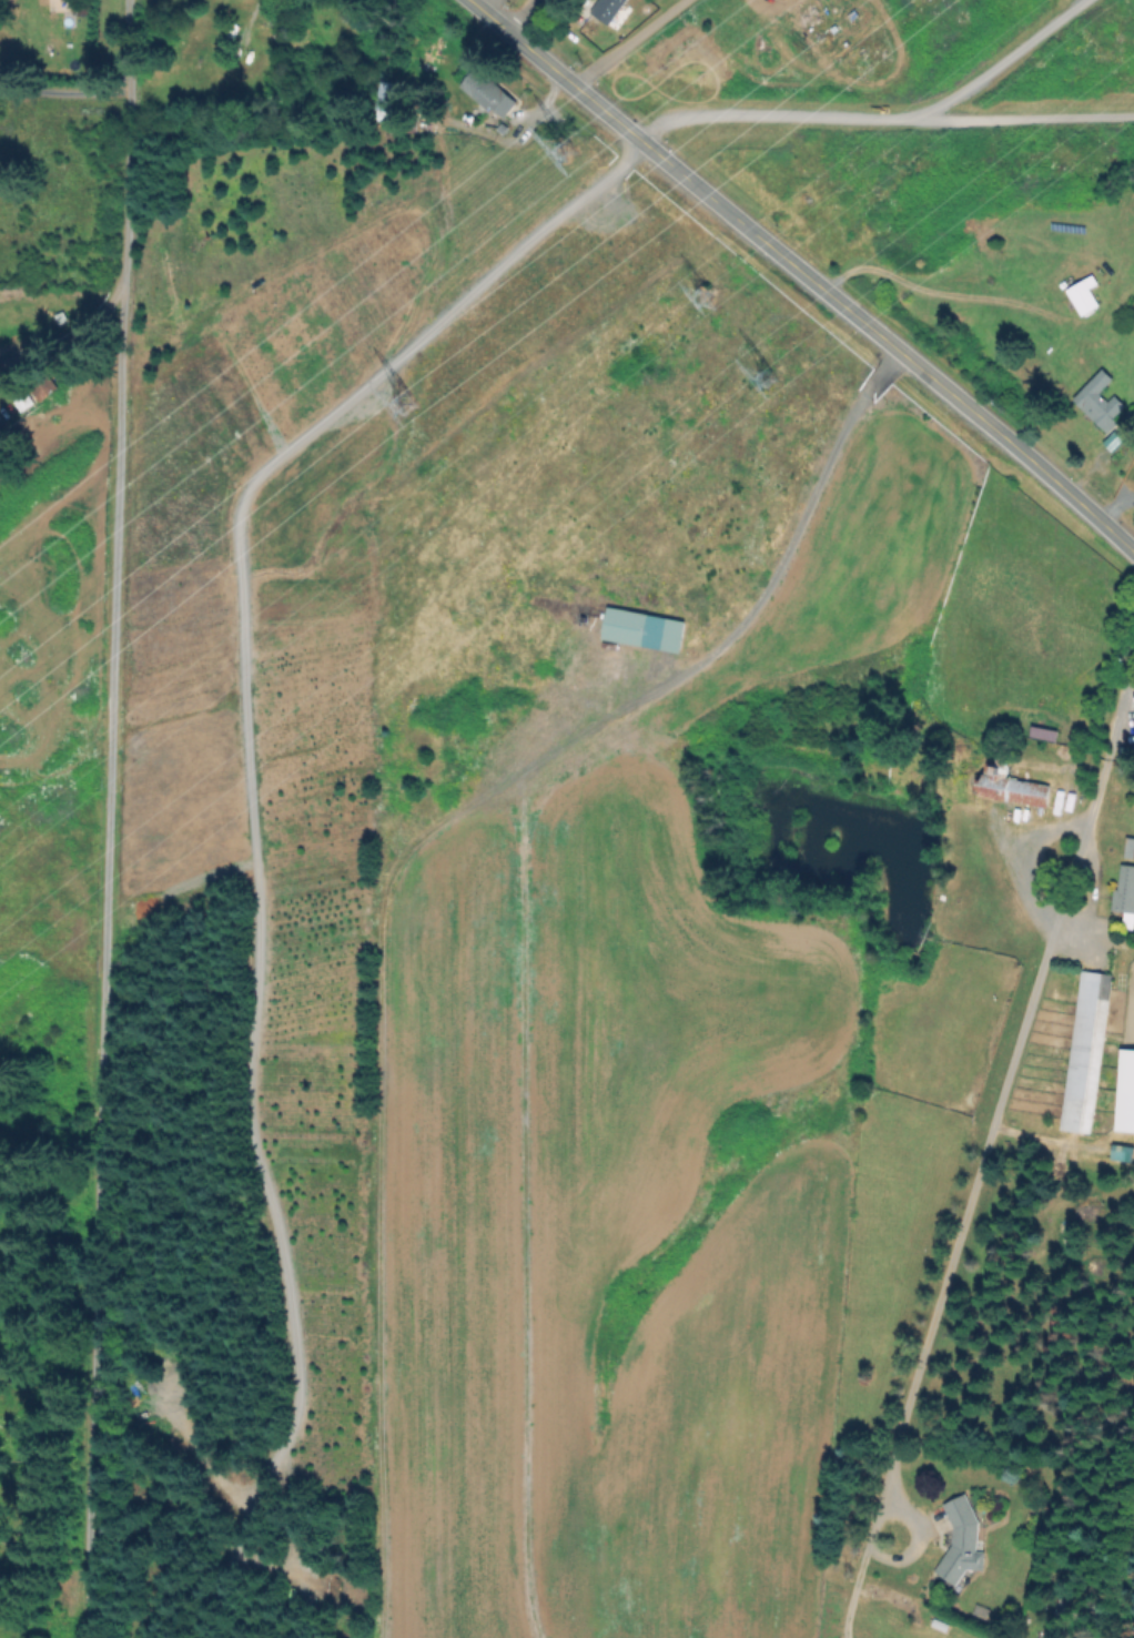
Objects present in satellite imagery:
building: (608, 9)
road: (519, 14)
road: (644, 48)
road: (1009, 64)
road: (839, 78)
road: (65, 91)
building: (489, 92)
building: (387, 95)
road: (887, 123)
power tower: (569, 142)
road: (803, 273)
road: (930, 295)
building: (1084, 295)
power tower: (711, 299)
road: (68, 338)
power tower: (769, 380)
building: (47, 384)
building: (1101, 401)
power tower: (413, 406)
building: (644, 630)
road: (1113, 751)
building: (1009, 782)
road: (250, 810)
road: (109, 818)
building: (1125, 893)
road: (530, 918)
road: (1051, 927)
building: (1085, 1051)
building: (1126, 1092)
building: (1121, 1150)
road: (975, 1195)
building: (962, 1540)
road: (902, 1554)
building: (1052, 1632)

